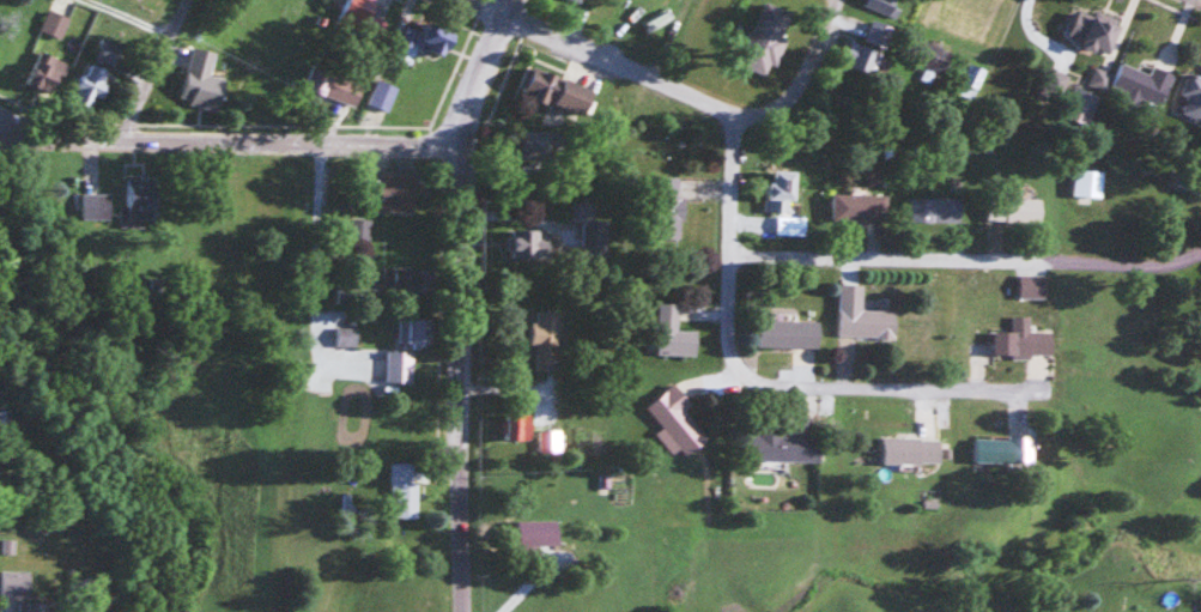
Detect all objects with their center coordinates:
building: (365, 14)
road: (129, 19)
building: (54, 23)
building: (1093, 30)
building: (429, 37)
building: (768, 38)
road: (601, 56)
building: (861, 57)
building: (49, 68)
road: (486, 68)
road: (159, 71)
building: (1099, 74)
building: (971, 75)
building: (200, 78)
road: (806, 78)
building: (335, 81)
building: (1141, 83)
building: (91, 85)
building: (556, 90)
building: (383, 93)
building: (1191, 96)
building: (1079, 107)
road: (0, 138)
road: (231, 143)
building: (534, 144)
building: (1086, 182)
building: (781, 188)
building: (395, 189)
building: (140, 198)
building: (95, 204)
building: (667, 207)
building: (860, 207)
building: (935, 211)
building: (1014, 211)
building: (592, 229)
building: (358, 236)
building: (529, 243)
road: (964, 256)
building: (407, 280)
road: (728, 289)
building: (863, 317)
building: (417, 329)
building: (673, 333)
building: (789, 333)
building: (353, 334)
building: (546, 339)
building: (1023, 343)
building: (399, 365)
road: (460, 374)
road: (921, 388)
building: (678, 420)
building: (520, 425)
building: (550, 441)
building: (783, 447)
building: (911, 449)
building: (1003, 450)
building: (404, 490)
building: (538, 533)
building: (16, 583)
building: (34, 607)

